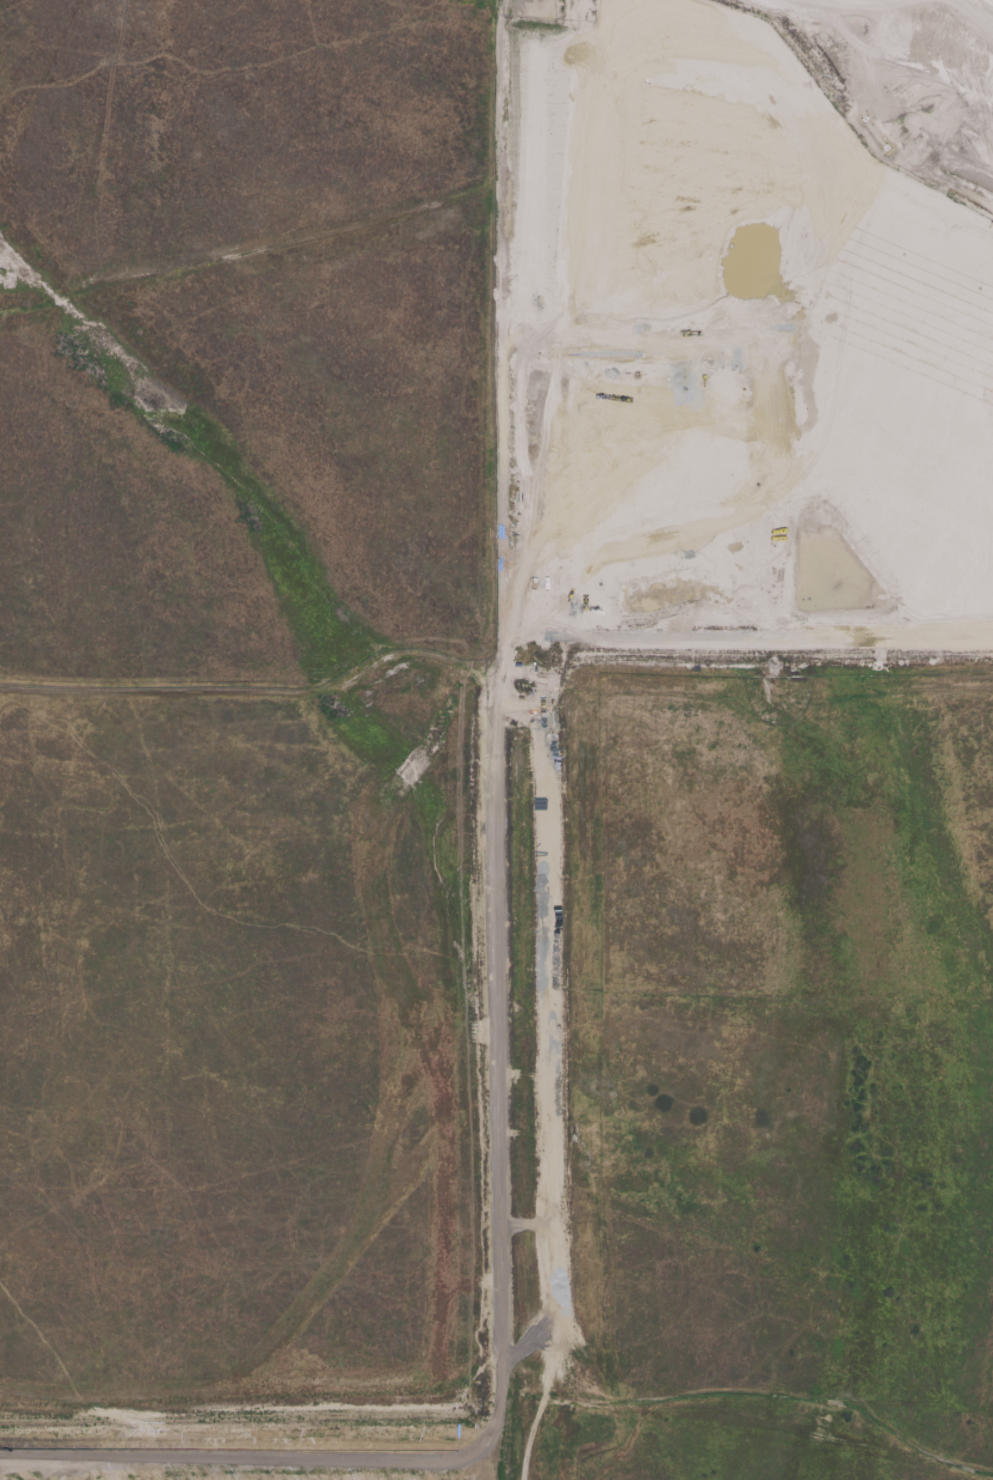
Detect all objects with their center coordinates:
road: (254, 249)
road: (631, 347)
road: (768, 390)
road: (733, 643)
building: (789, 675)
road: (742, 678)
road: (250, 695)
road: (564, 1050)
road: (490, 1053)
road: (506, 1397)
road: (246, 1440)
road: (491, 1449)
road: (244, 1466)

